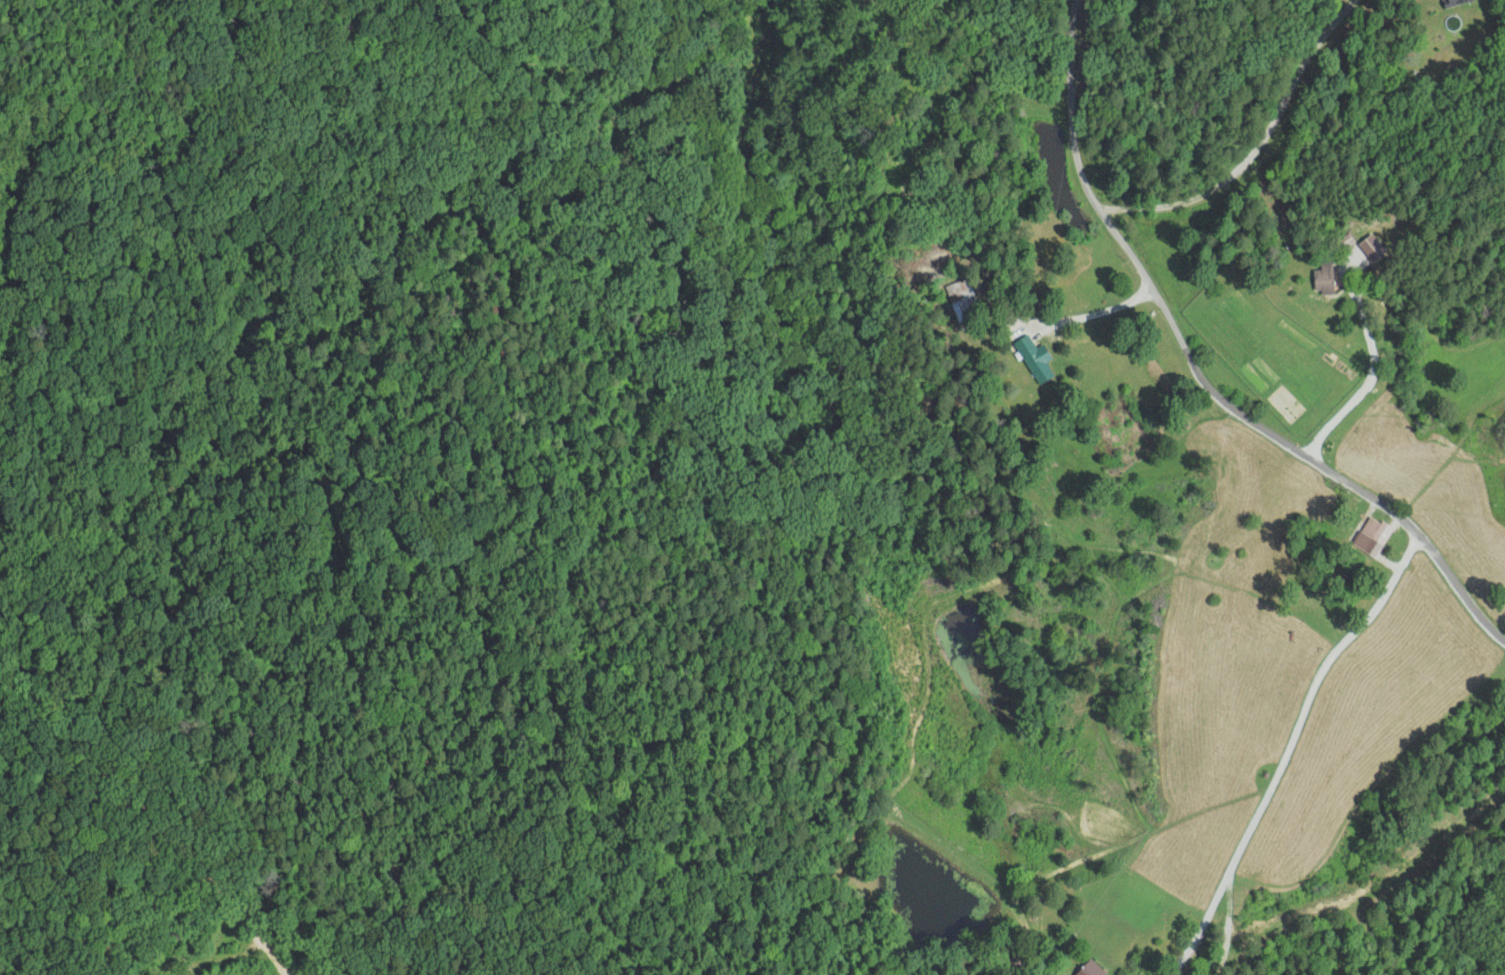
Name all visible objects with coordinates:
building: (1455, 2)
road: (1470, 247)
building: (1324, 279)
building: (966, 294)
road: (1343, 353)
building: (1035, 359)
road: (1181, 393)
building: (1372, 537)
building: (1089, 969)

